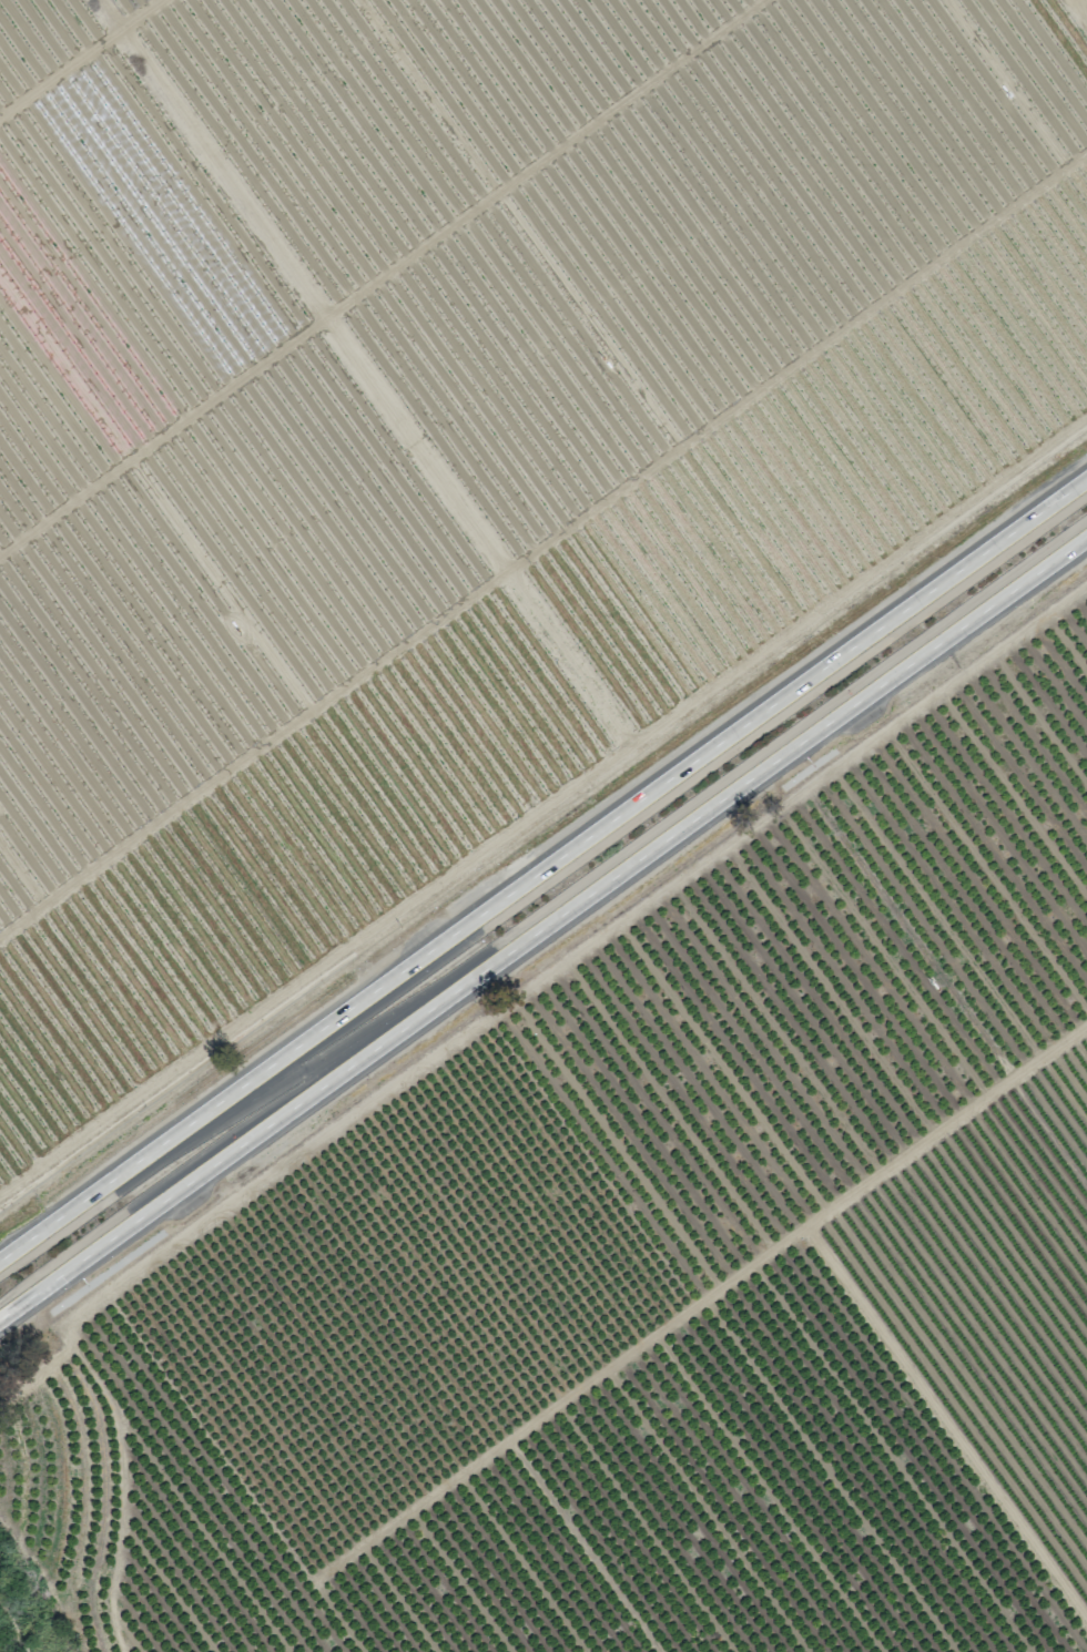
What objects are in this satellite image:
road: (542, 870)
road: (542, 927)

